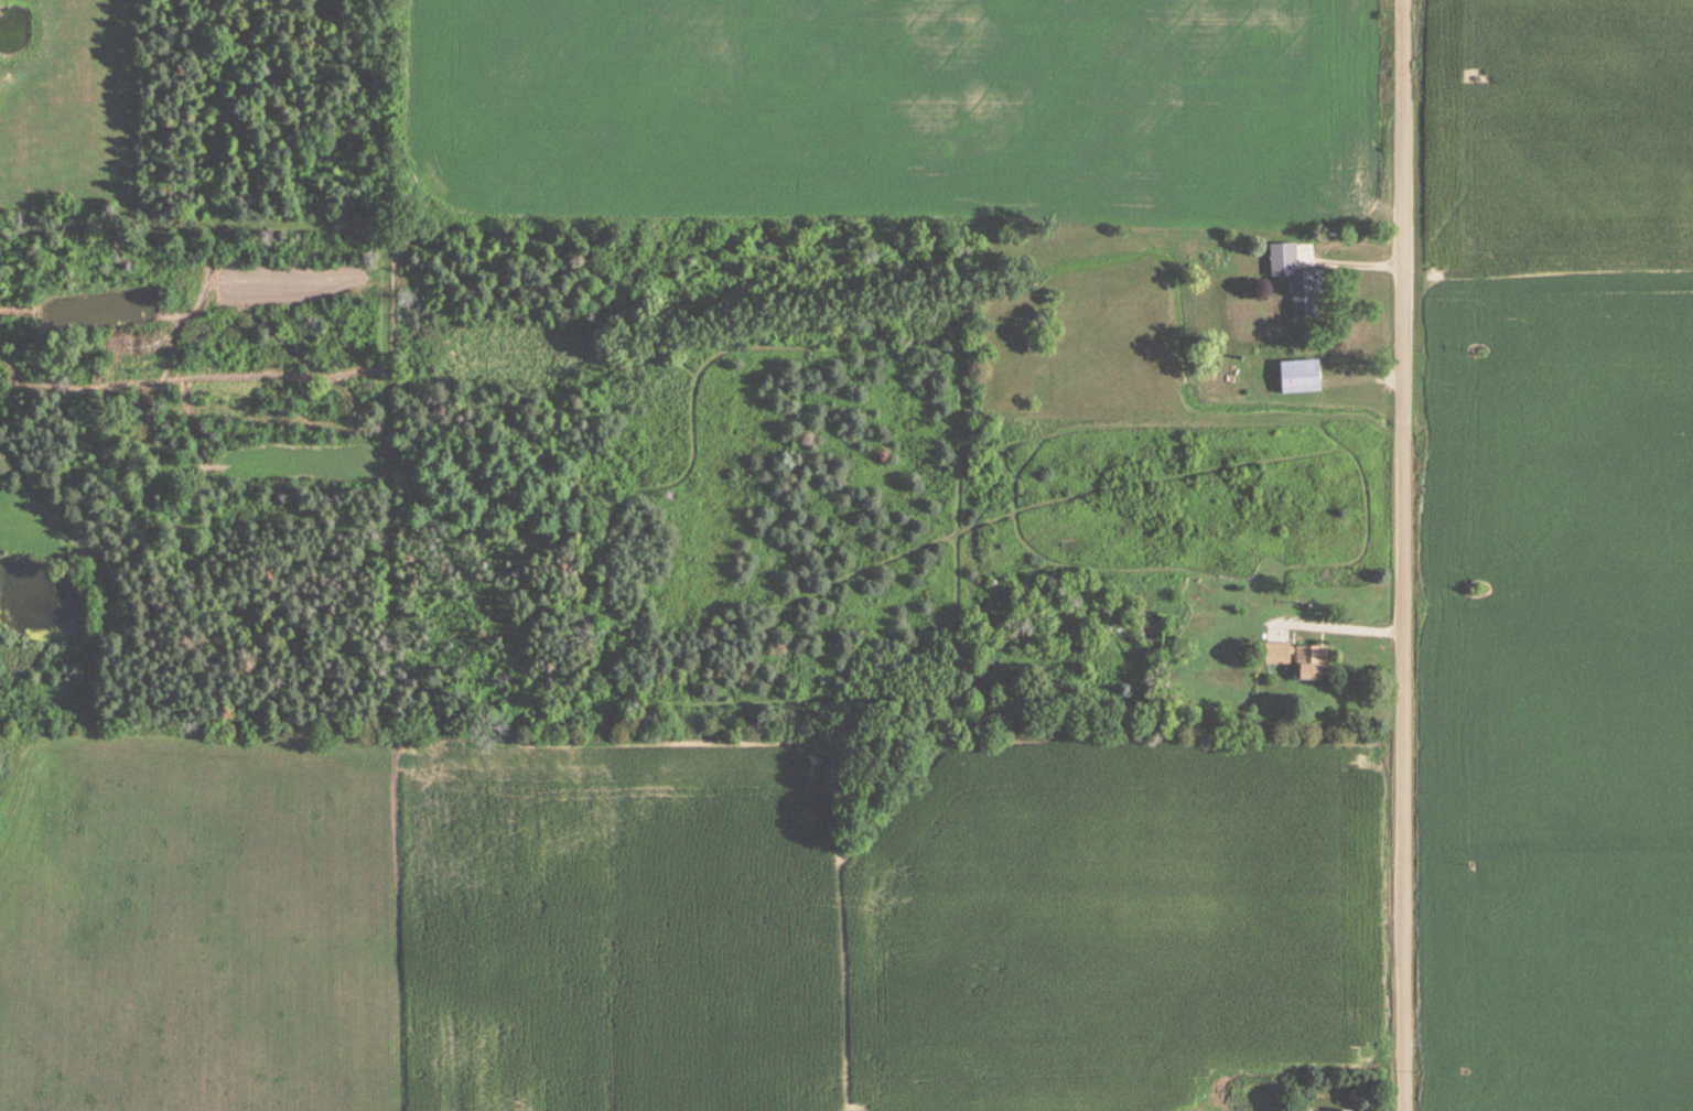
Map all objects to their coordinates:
building: (1296, 281)
building: (1301, 377)
building: (1266, 550)
road: (1404, 555)
building: (1301, 659)

